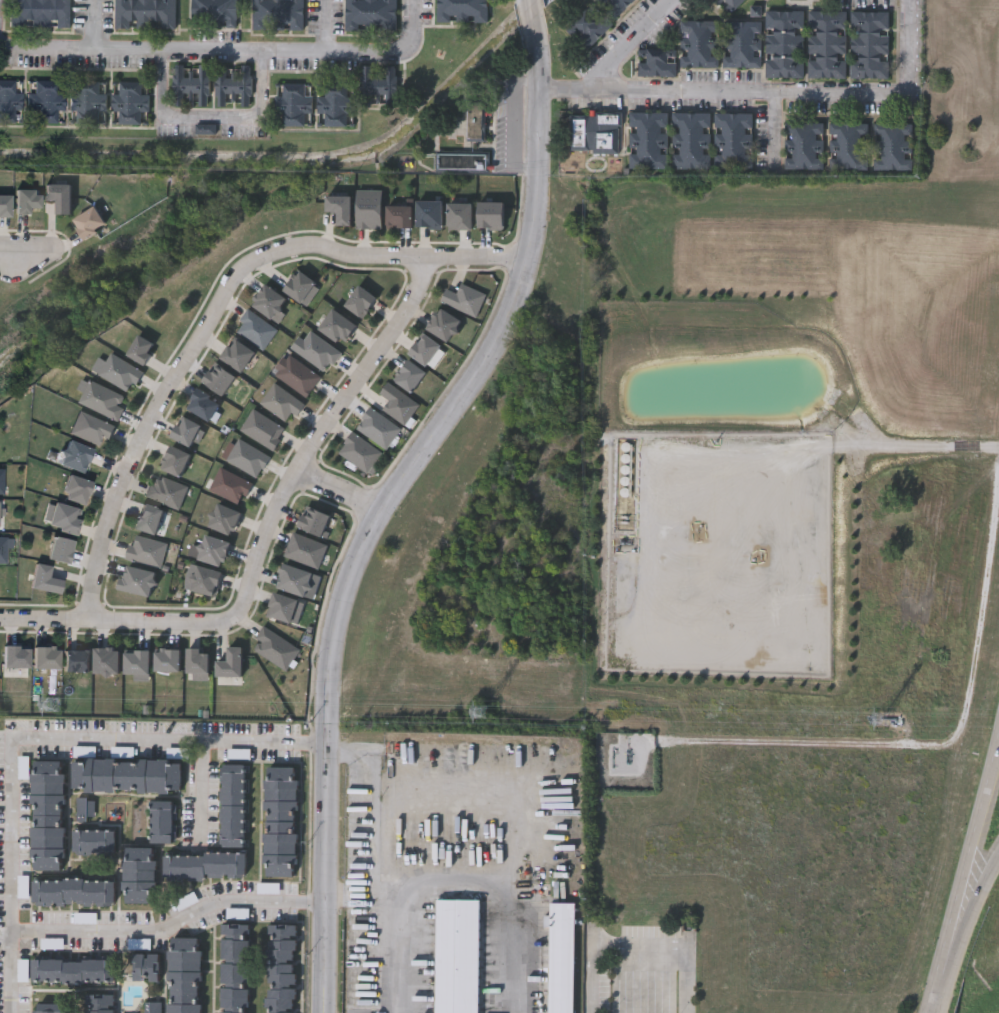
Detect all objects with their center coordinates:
building: (727, 5)
building: (615, 6)
building: (461, 10)
building: (39, 12)
building: (213, 12)
building: (144, 13)
building: (370, 13)
building: (276, 14)
road: (529, 15)
road: (94, 25)
road: (325, 25)
building: (588, 25)
building: (699, 41)
road: (629, 42)
building: (741, 42)
building: (784, 42)
building: (826, 42)
building: (868, 42)
road: (226, 50)
road: (533, 58)
building: (656, 61)
building: (190, 82)
building: (231, 83)
building: (377, 84)
road: (768, 95)
building: (8, 100)
building: (45, 100)
building: (87, 100)
building: (129, 101)
building: (292, 101)
building: (334, 102)
road: (209, 118)
building: (475, 119)
building: (596, 131)
building: (647, 138)
building: (689, 139)
building: (732, 139)
building: (803, 145)
building: (846, 145)
building: (888, 145)
building: (461, 160)
building: (59, 196)
building: (26, 199)
building: (4, 204)
building: (459, 214)
building: (398, 215)
building: (88, 221)
road: (18, 246)
road: (409, 258)
building: (298, 285)
building: (267, 300)
building: (359, 300)
building: (443, 323)
building: (337, 325)
building: (254, 328)
building: (141, 348)
building: (424, 348)
building: (317, 350)
building: (236, 353)
building: (116, 370)
building: (296, 374)
building: (409, 374)
building: (102, 398)
building: (280, 401)
building: (396, 402)
road: (154, 407)
building: (89, 426)
building: (376, 426)
building: (186, 430)
road: (324, 431)
road: (989, 442)
road: (967, 443)
road: (797, 448)
building: (74, 455)
building: (246, 457)
building: (175, 459)
building: (1, 479)
building: (229, 485)
building: (76, 489)
building: (164, 490)
road: (341, 492)
building: (0, 517)
building: (64, 517)
building: (148, 517)
building: (223, 518)
road: (373, 533)
building: (3, 548)
building: (60, 549)
building: (213, 549)
building: (46, 577)
building: (136, 579)
building: (205, 579)
road: (120, 620)
building: (273, 646)
building: (45, 656)
building: (106, 659)
building: (167, 659)
building: (136, 661)
power tower: (53, 705)
power tower: (482, 714)
power tower: (880, 721)
road: (37, 738)
building: (127, 775)
road: (199, 780)
building: (232, 805)
building: (83, 809)
building: (46, 814)
building: (162, 820)
building: (280, 821)
building: (94, 841)
building: (205, 865)
road: (376, 869)
building: (140, 874)
road: (969, 881)
building: (74, 891)
road: (969, 920)
road: (170, 926)
road: (640, 948)
building: (457, 955)
building: (563, 957)
building: (146, 966)
building: (234, 968)
building: (280, 968)
building: (71, 970)
building: (183, 974)
building: (98, 1003)
building: (150, 1006)
building: (47, 1008)

